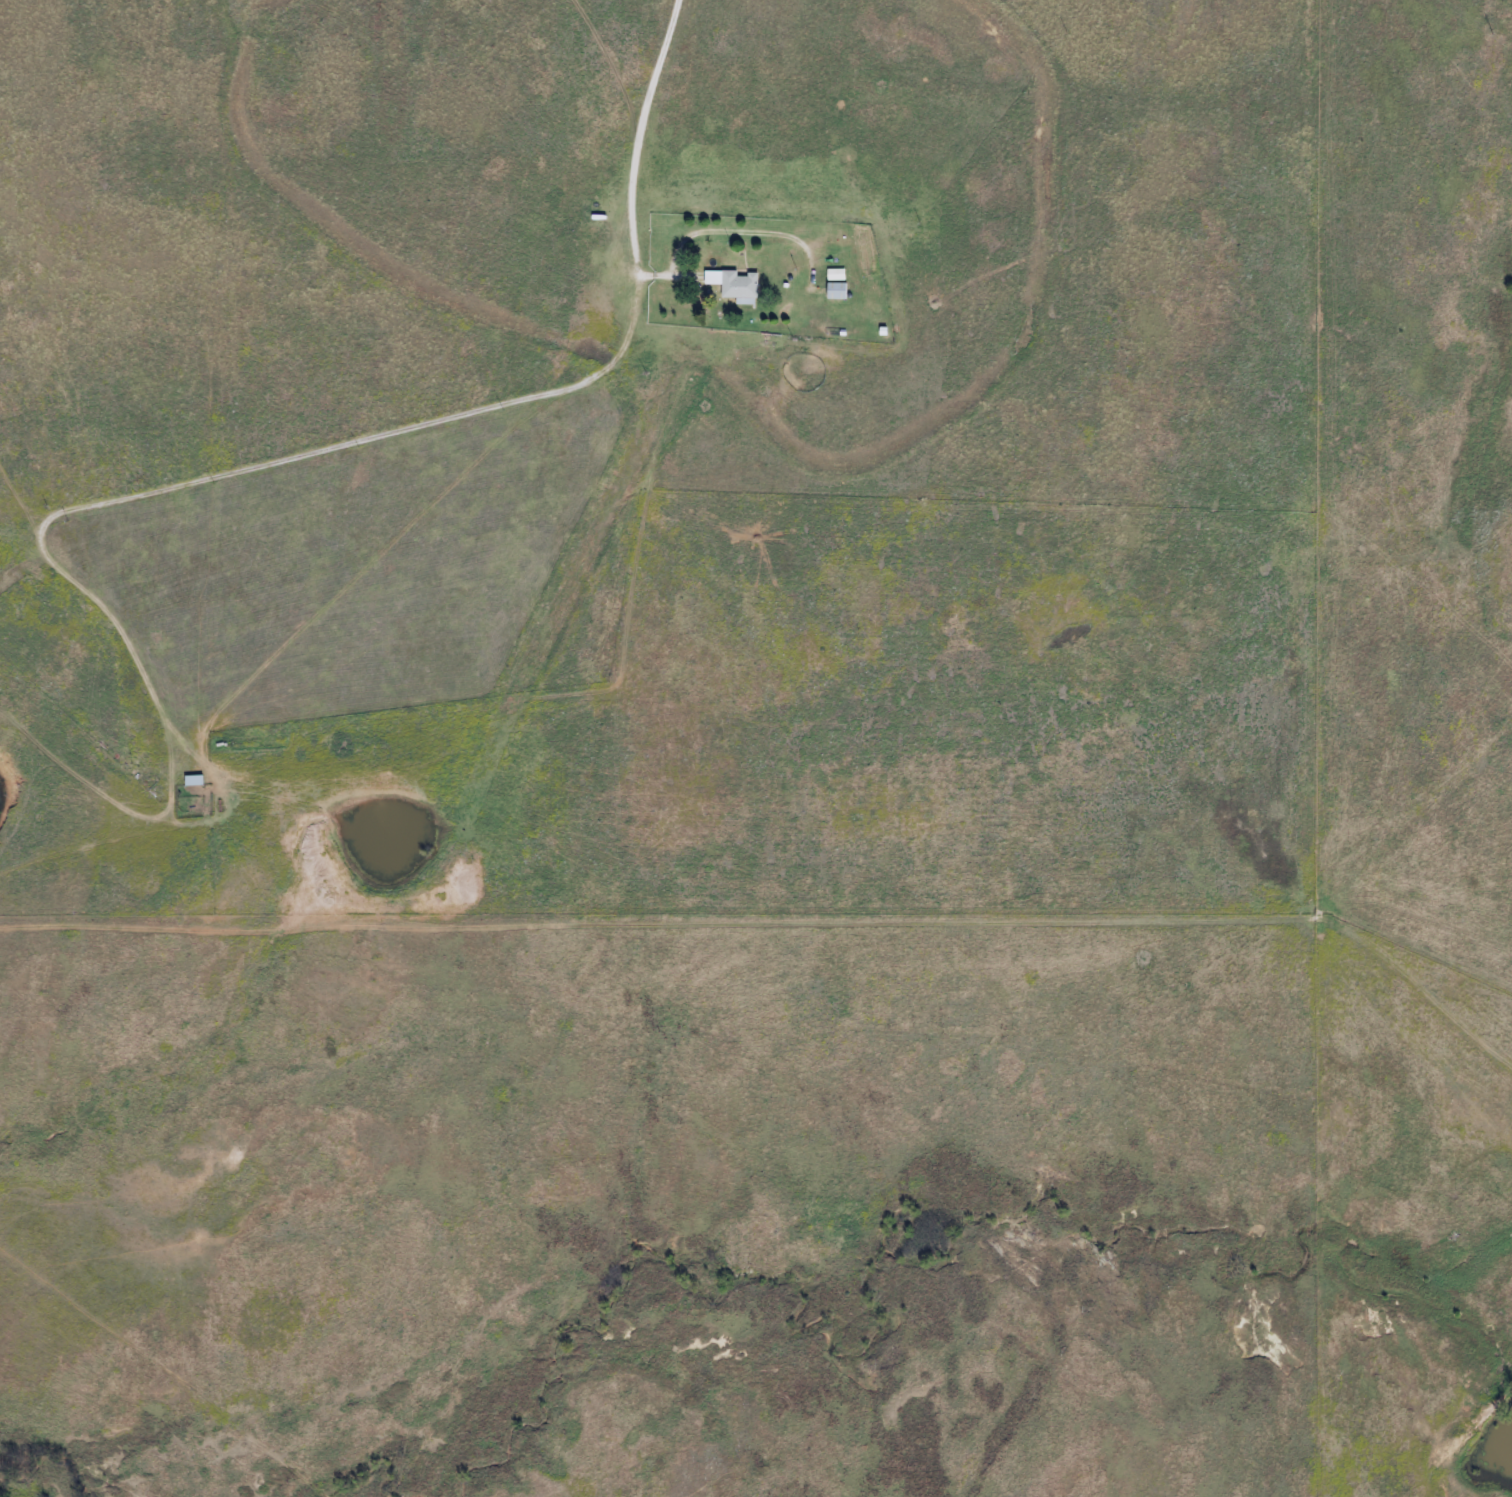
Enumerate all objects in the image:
road: (650, 153)
building: (834, 274)
building: (732, 285)
building: (834, 291)
building: (191, 780)

